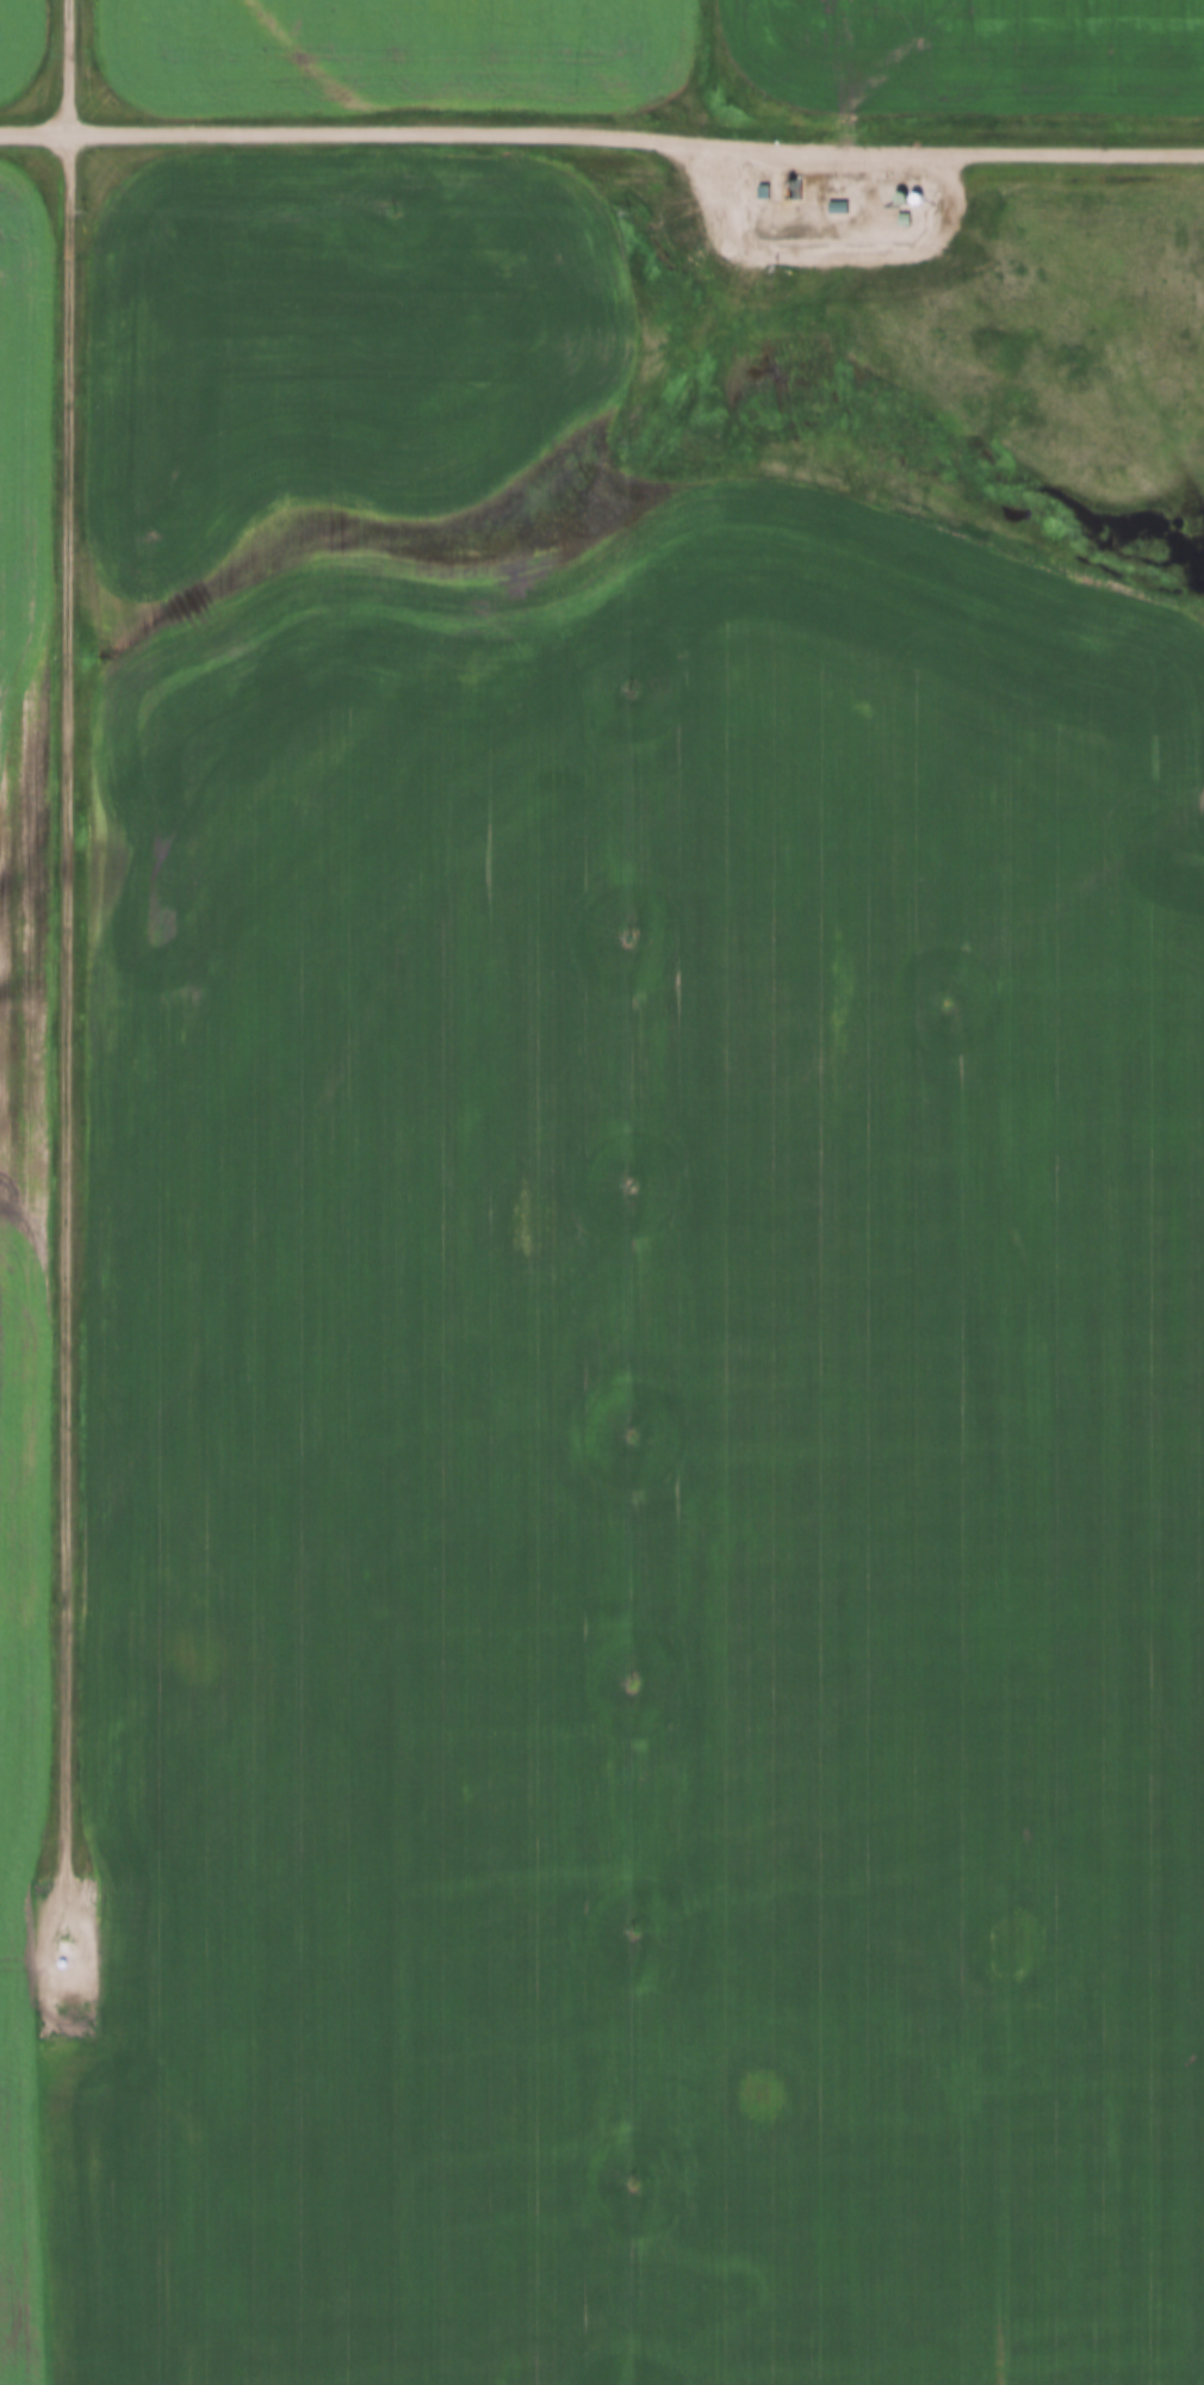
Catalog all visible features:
road: (602, 125)
building: (911, 196)
building: (837, 206)
building: (902, 218)
road: (67, 952)

